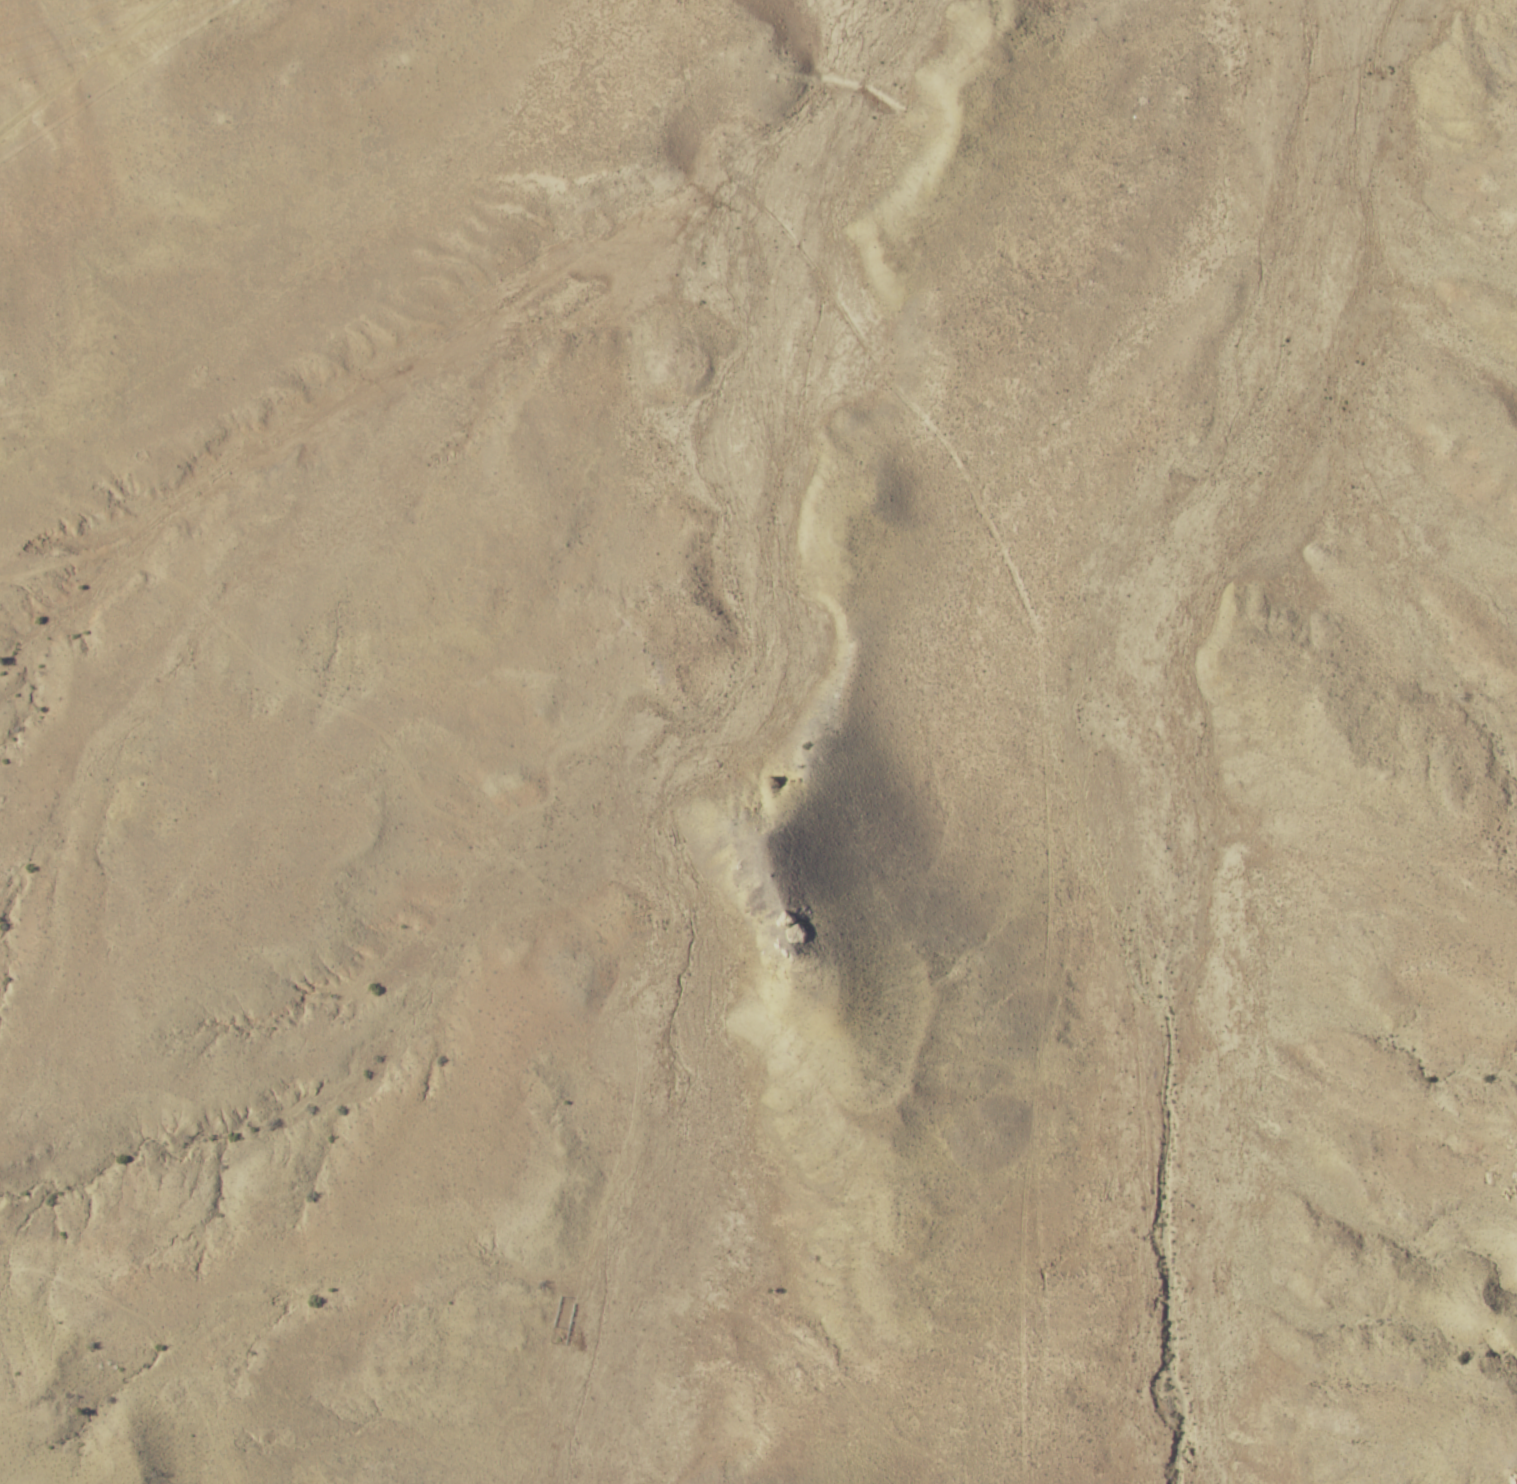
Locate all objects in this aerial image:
road: (73, 61)

